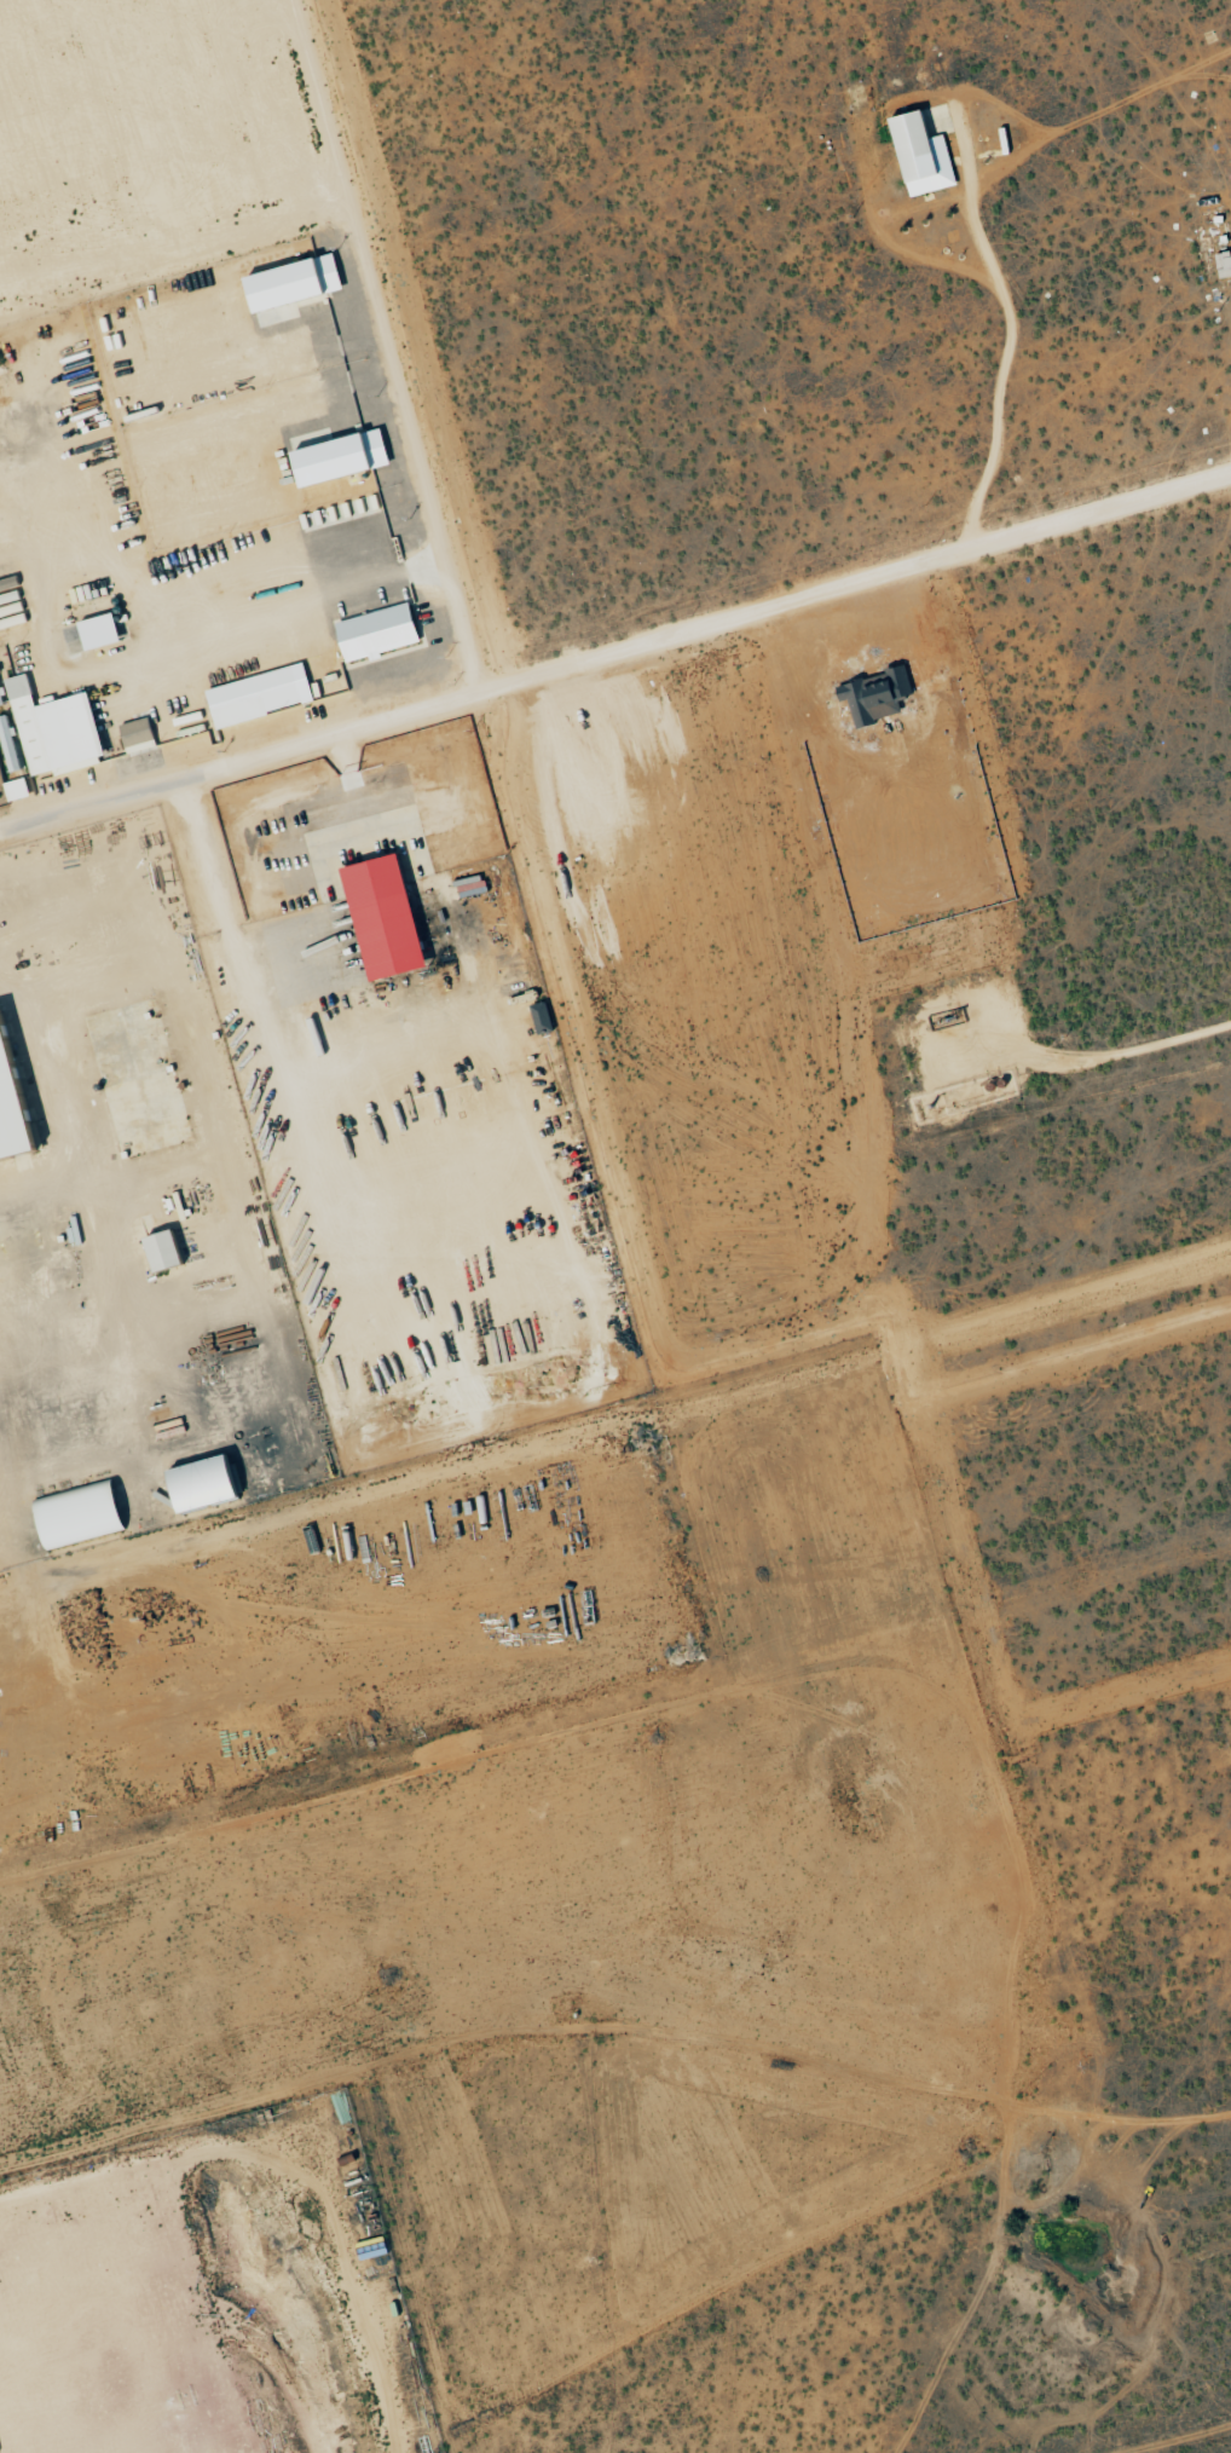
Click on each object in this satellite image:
building: (915, 156)
building: (1221, 265)
building: (302, 282)
building: (348, 456)
building: (106, 630)
building: (383, 631)
road: (615, 663)
building: (1, 687)
building: (258, 696)
road: (88, 722)
building: (60, 729)
building: (166, 732)
building: (143, 734)
building: (19, 789)
building: (394, 917)
building: (18, 1096)
building: (172, 1251)
building: (215, 1484)
building: (88, 1513)

